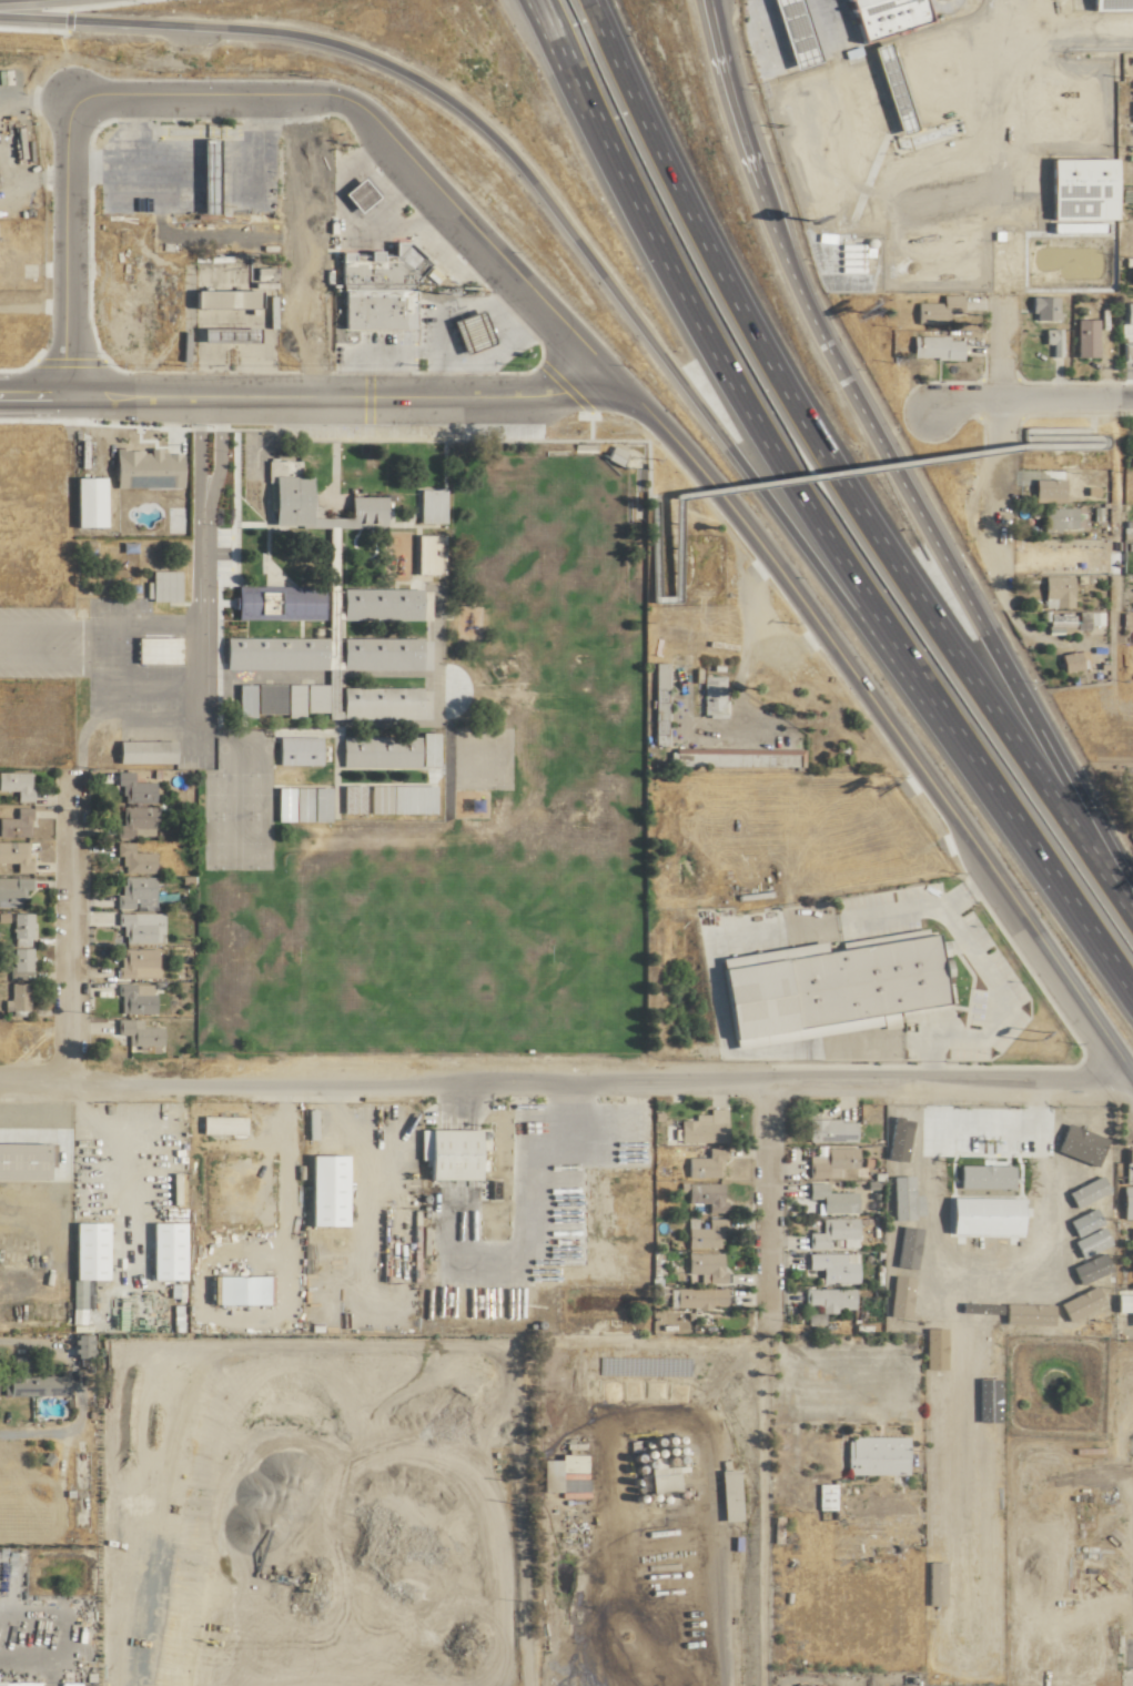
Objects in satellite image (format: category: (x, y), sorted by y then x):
road: (545, 38)
road: (350, 101)
building: (353, 194)
road: (573, 240)
road: (61, 249)
building: (939, 267)
building: (376, 286)
building: (221, 297)
road: (31, 306)
building: (1041, 309)
road: (805, 310)
building: (934, 310)
building: (1126, 313)
building: (214, 334)
road: (571, 335)
building: (1083, 339)
building: (1050, 341)
building: (932, 347)
road: (436, 350)
road: (449, 373)
road: (732, 391)
road: (33, 395)
road: (214, 396)
road: (485, 396)
road: (1028, 397)
road: (1089, 425)
road: (270, 435)
road: (999, 443)
building: (18, 456)
road: (832, 464)
building: (143, 467)
road: (852, 470)
building: (351, 472)
road: (647, 472)
building: (284, 485)
building: (1044, 489)
building: (32, 492)
building: (83, 501)
building: (427, 505)
building: (1054, 518)
building: (424, 554)
building: (160, 585)
building: (1054, 590)
building: (273, 603)
building: (381, 604)
building: (1056, 618)
road: (753, 630)
building: (152, 649)
building: (381, 653)
building: (1069, 662)
road: (194, 680)
building: (656, 682)
building: (709, 695)
building: (301, 698)
building: (256, 699)
road: (880, 713)
road: (724, 729)
road: (79, 739)
road: (1048, 746)
building: (294, 749)
building: (385, 750)
building: (140, 751)
building: (253, 754)
building: (14, 784)
building: (130, 788)
building: (385, 798)
building: (133, 821)
building: (16, 822)
building: (14, 856)
building: (131, 858)
road: (1051, 879)
building: (12, 888)
building: (133, 891)
road: (1127, 908)
road: (827, 923)
building: (138, 927)
building: (19, 929)
road: (65, 935)
building: (18, 962)
building: (134, 962)
road: (988, 979)
building: (17, 996)
building: (133, 998)
building: (135, 1031)
road: (560, 1081)
road: (461, 1098)
road: (984, 1119)
road: (589, 1121)
building: (218, 1124)
building: (701, 1127)
building: (828, 1130)
building: (445, 1153)
road: (579, 1161)
building: (828, 1161)
building: (21, 1162)
building: (704, 1163)
building: (1125, 1183)
building: (701, 1194)
road: (765, 1198)
building: (830, 1199)
road: (514, 1205)
building: (832, 1232)
building: (701, 1233)
building: (1129, 1235)
building: (1131, 1261)
building: (702, 1266)
building: (832, 1266)
building: (828, 1299)
building: (1123, 1305)
building: (812, 1319)
building: (139, 1321)
building: (78, 1345)
building: (29, 1382)
road: (75, 1391)
building: (873, 1455)
building: (544, 1475)
building: (657, 1478)
building: (724, 1495)
building: (822, 1496)
road: (717, 1607)
road: (36, 1665)

